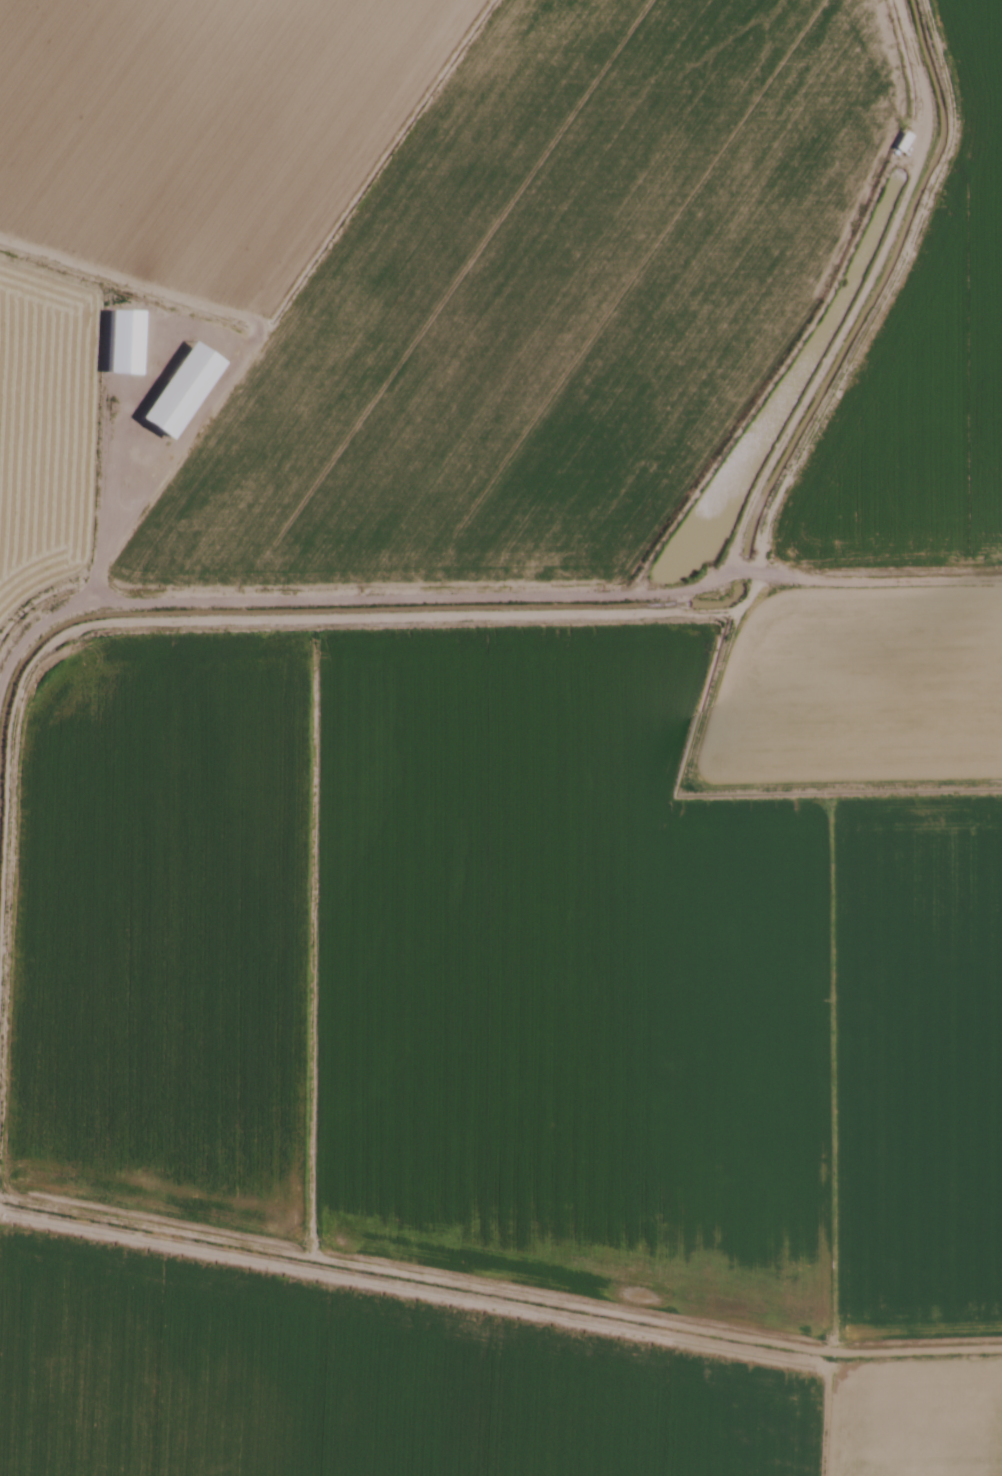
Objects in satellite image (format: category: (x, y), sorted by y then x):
building: (899, 144)
building: (177, 391)
road: (487, 600)

